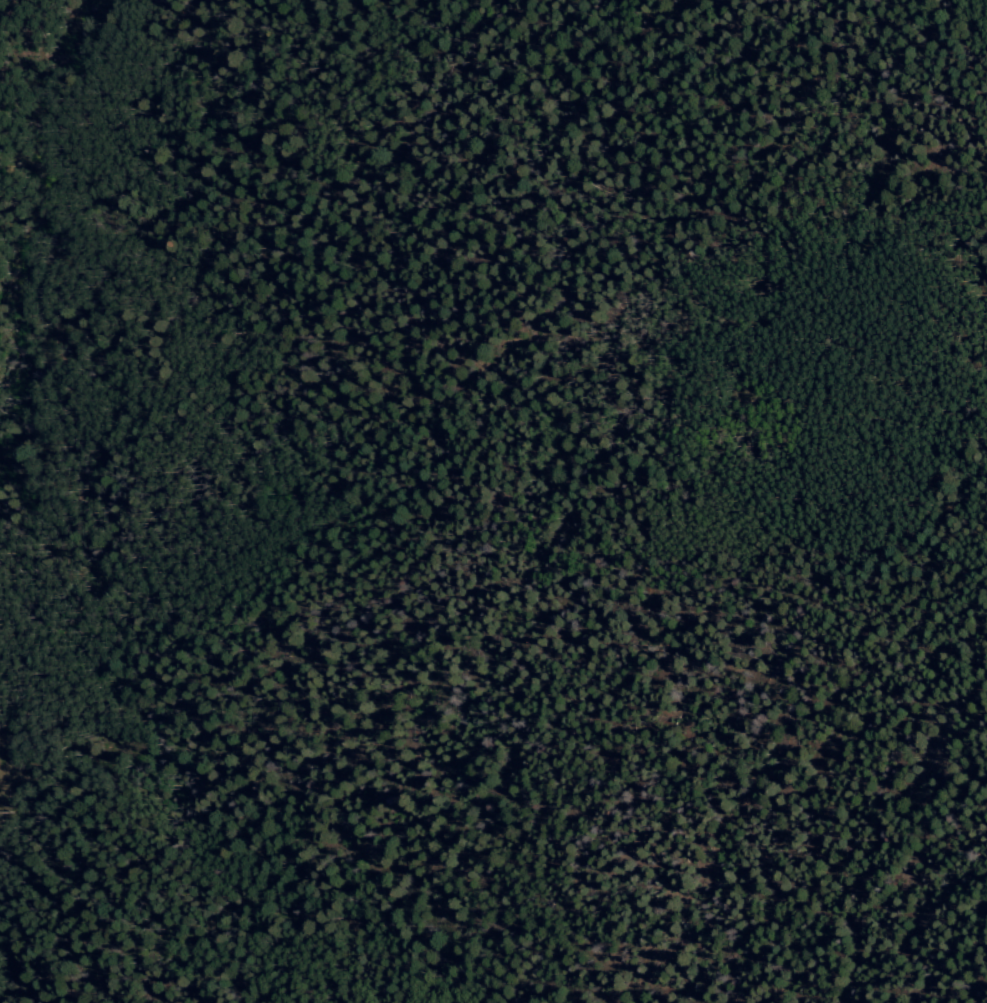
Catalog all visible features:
road: (71, 428)

